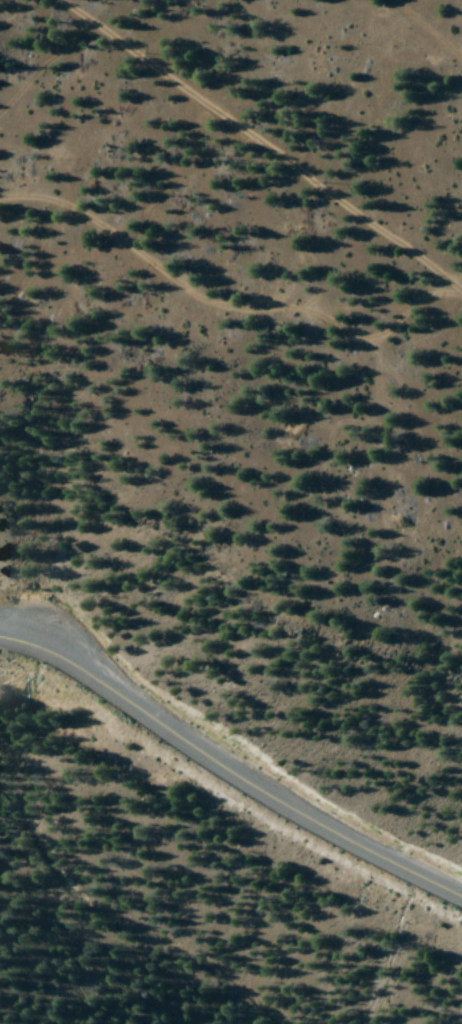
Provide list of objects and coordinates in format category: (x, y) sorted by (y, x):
road: (267, 141)
road: (223, 300)
road: (230, 761)

